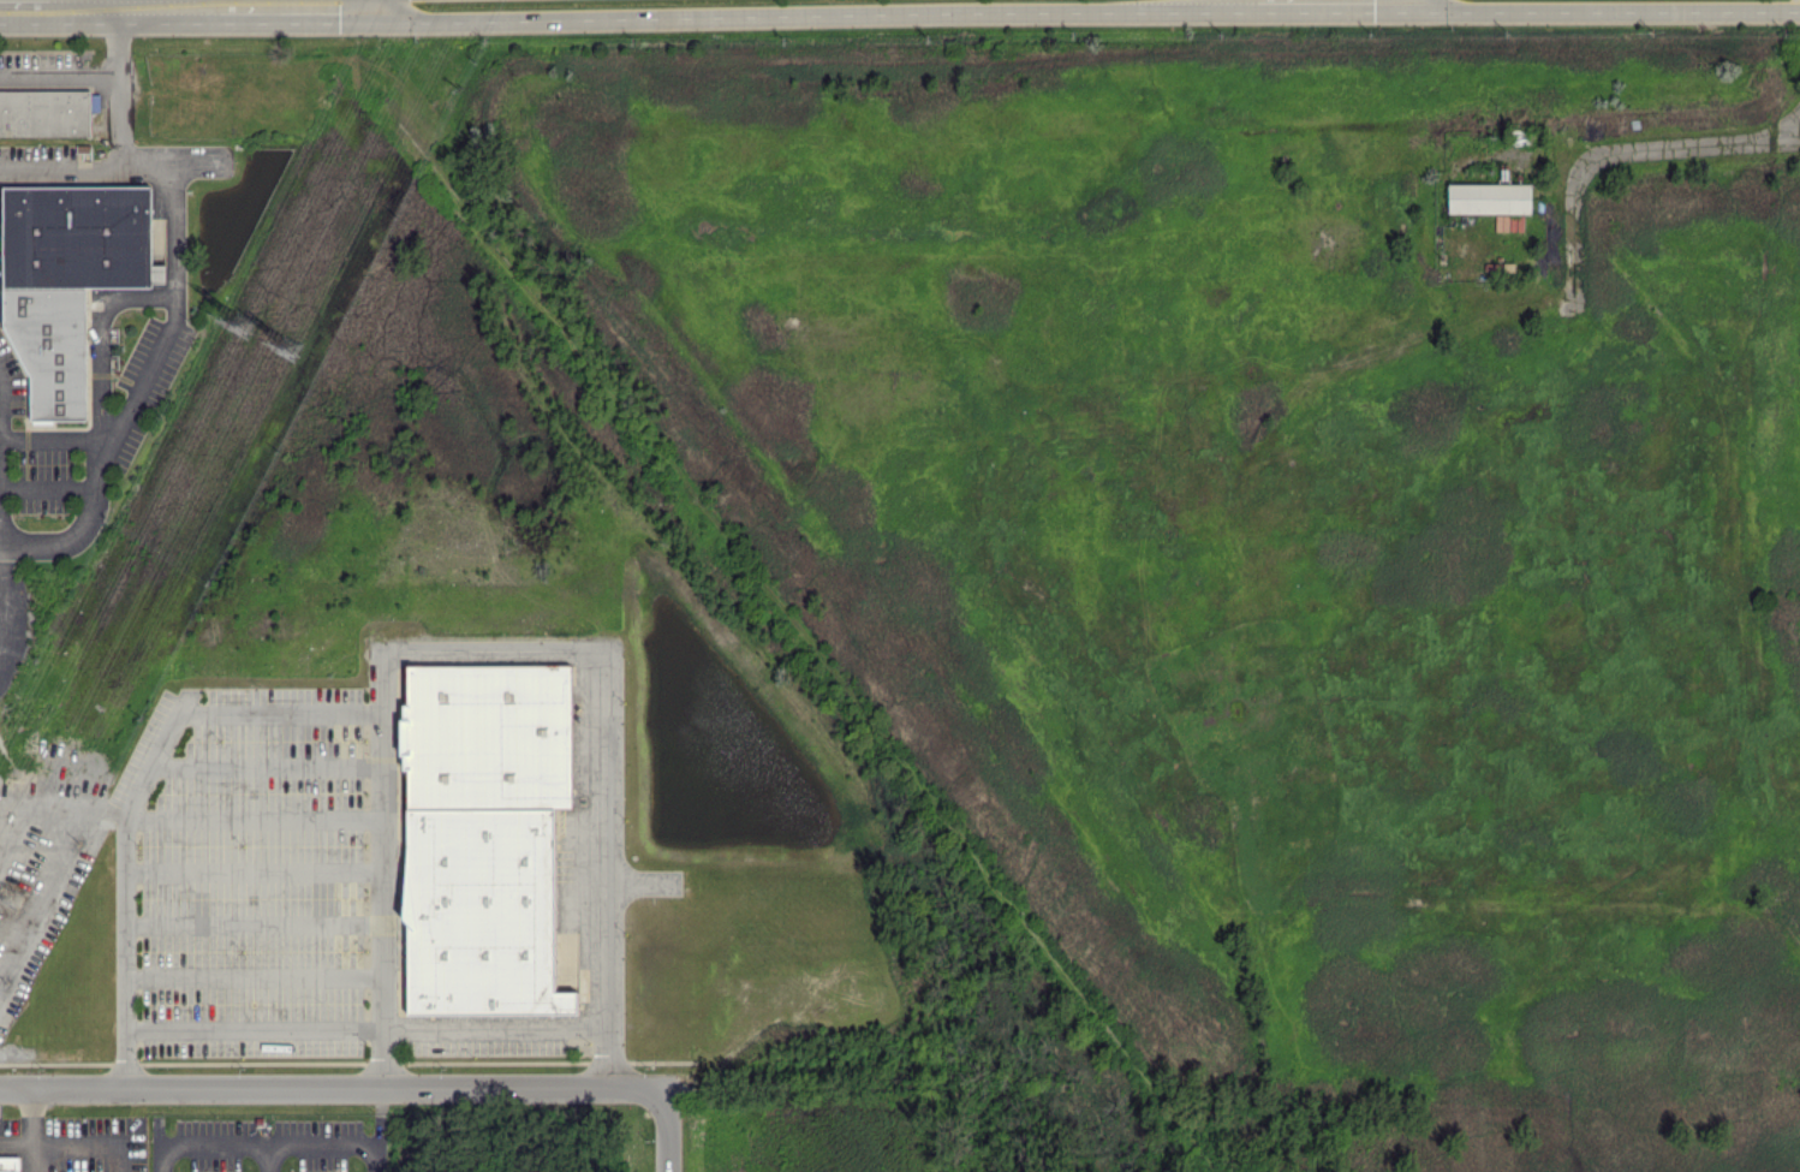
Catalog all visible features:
road: (381, 1)
road: (145, 2)
road: (405, 2)
road: (29, 4)
road: (131, 6)
road: (73, 7)
road: (14, 8)
road: (118, 40)
parking lot: (46, 70)
road: (59, 73)
building: (43, 113)
road: (120, 121)
road: (1673, 143)
parking lot: (36, 163)
road: (60, 169)
building: (1489, 197)
road: (174, 206)
building: (157, 249)
building: (65, 276)
power tower: (244, 326)
road: (99, 331)
power tower: (285, 351)
road: (143, 376)
parking lot: (136, 410)
road: (54, 440)
road: (46, 488)
road: (0, 517)
road: (83, 525)
road: (0, 587)
road: (1, 600)
parking lot: (13, 627)
road: (491, 650)
road: (5, 758)
road: (266, 767)
road: (137, 793)
road: (254, 819)
building: (481, 833)
road: (36, 847)
road: (71, 851)
parking lot: (41, 867)
road: (252, 871)
parking lot: (261, 886)
power tower: (11, 894)
road: (25, 899)
road: (252, 924)
road: (14, 946)
road: (254, 976)
road: (366, 1027)
road: (333, 1084)
road: (29, 1112)
road: (377, 1128)
road: (667, 1128)
road: (16, 1138)
road: (89, 1141)
road: (258, 1146)
road: (31, 1155)
road: (263, 1159)
building: (10, 1162)

